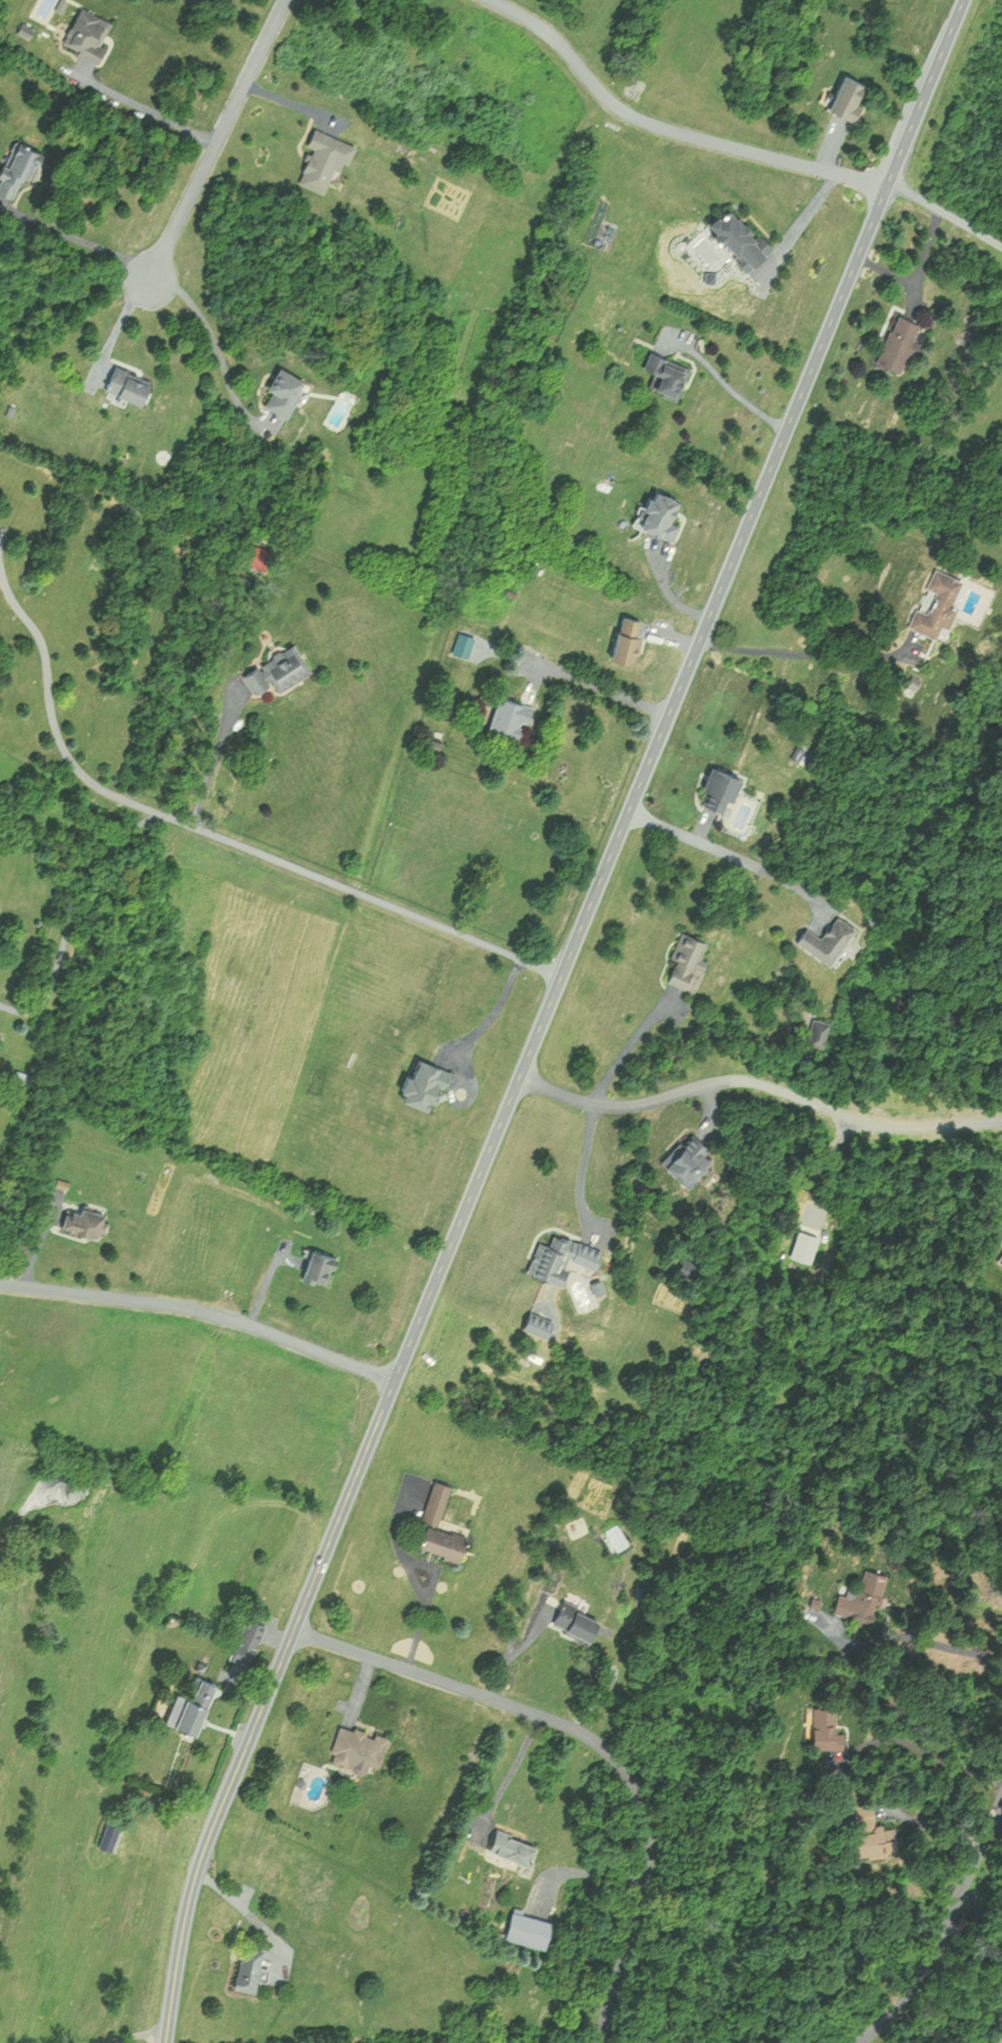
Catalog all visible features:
building: (92, 33)
building: (846, 95)
road: (146, 108)
road: (672, 129)
road: (218, 135)
building: (317, 159)
road: (945, 214)
road: (795, 224)
building: (733, 236)
road: (75, 238)
road: (122, 319)
building: (895, 342)
road: (216, 346)
building: (665, 373)
building: (124, 383)
road: (727, 385)
building: (278, 390)
building: (656, 513)
building: (257, 556)
building: (936, 603)
building: (624, 639)
road: (807, 655)
building: (273, 668)
road: (605, 689)
building: (506, 715)
road: (51, 719)
building: (430, 743)
road: (217, 758)
building: (716, 788)
road: (726, 852)
road: (365, 893)
road: (73, 909)
building: (824, 938)
building: (683, 958)
road: (543, 1015)
road: (468, 1047)
road: (630, 1047)
building: (417, 1081)
road: (687, 1088)
building: (684, 1160)
road: (583, 1172)
building: (82, 1220)
building: (560, 1257)
building: (685, 1266)
building: (317, 1267)
road: (202, 1310)
building: (437, 1503)
road: (390, 1521)
building: (439, 1542)
road: (412, 1584)
building: (864, 1594)
building: (572, 1619)
road: (918, 1631)
building: (246, 1640)
road: (512, 1650)
building: (192, 1705)
building: (822, 1727)
road: (601, 1739)
building: (354, 1748)
road: (923, 1752)
road: (508, 1772)
road: (929, 1829)
building: (111, 1834)
building: (868, 1839)
building: (505, 1846)
road: (941, 1930)
road: (973, 1936)
building: (243, 1966)
road: (132, 2034)

